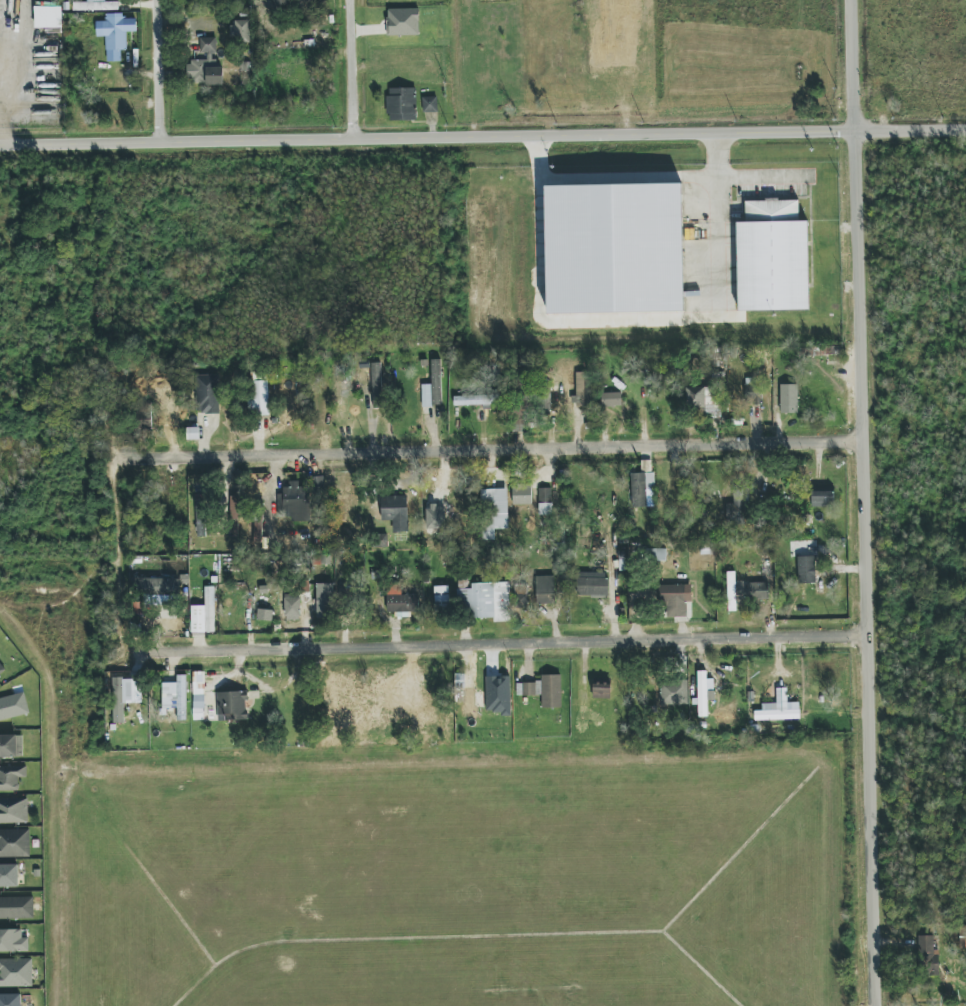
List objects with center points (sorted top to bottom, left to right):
building: (281, 4)
building: (96, 5)
building: (48, 17)
building: (403, 22)
building: (241, 30)
building: (115, 34)
building: (205, 65)
road: (357, 69)
road: (162, 71)
road: (7, 75)
building: (401, 104)
building: (429, 104)
road: (0, 136)
road: (483, 136)
road: (761, 178)
road: (715, 215)
building: (614, 250)
building: (772, 257)
building: (376, 385)
building: (433, 387)
building: (584, 390)
building: (753, 391)
building: (208, 394)
building: (261, 397)
building: (695, 397)
building: (788, 399)
building: (475, 400)
building: (611, 400)
building: (520, 415)
road: (495, 450)
building: (319, 488)
building: (641, 488)
building: (521, 494)
building: (260, 495)
building: (822, 499)
building: (545, 501)
building: (295, 502)
road: (866, 502)
building: (736, 508)
building: (495, 511)
building: (396, 512)
building: (232, 516)
building: (200, 518)
building: (257, 527)
building: (380, 540)
building: (806, 569)
building: (593, 584)
building: (545, 590)
building: (731, 591)
building: (757, 591)
building: (441, 595)
building: (521, 596)
building: (675, 599)
building: (325, 600)
building: (401, 601)
building: (487, 602)
building: (292, 607)
building: (204, 614)
building: (265, 615)
road: (514, 645)
building: (1, 670)
building: (543, 690)
building: (601, 691)
building: (674, 692)
building: (704, 693)
building: (198, 695)
building: (125, 696)
building: (175, 696)
building: (469, 699)
building: (232, 706)
building: (13, 707)
building: (778, 711)
building: (11, 745)
building: (12, 776)
building: (13, 810)
building: (14, 843)
building: (9, 875)
building: (16, 908)
building: (962, 937)
building: (13, 941)
building: (927, 956)
building: (16, 972)
building: (10, 1000)

